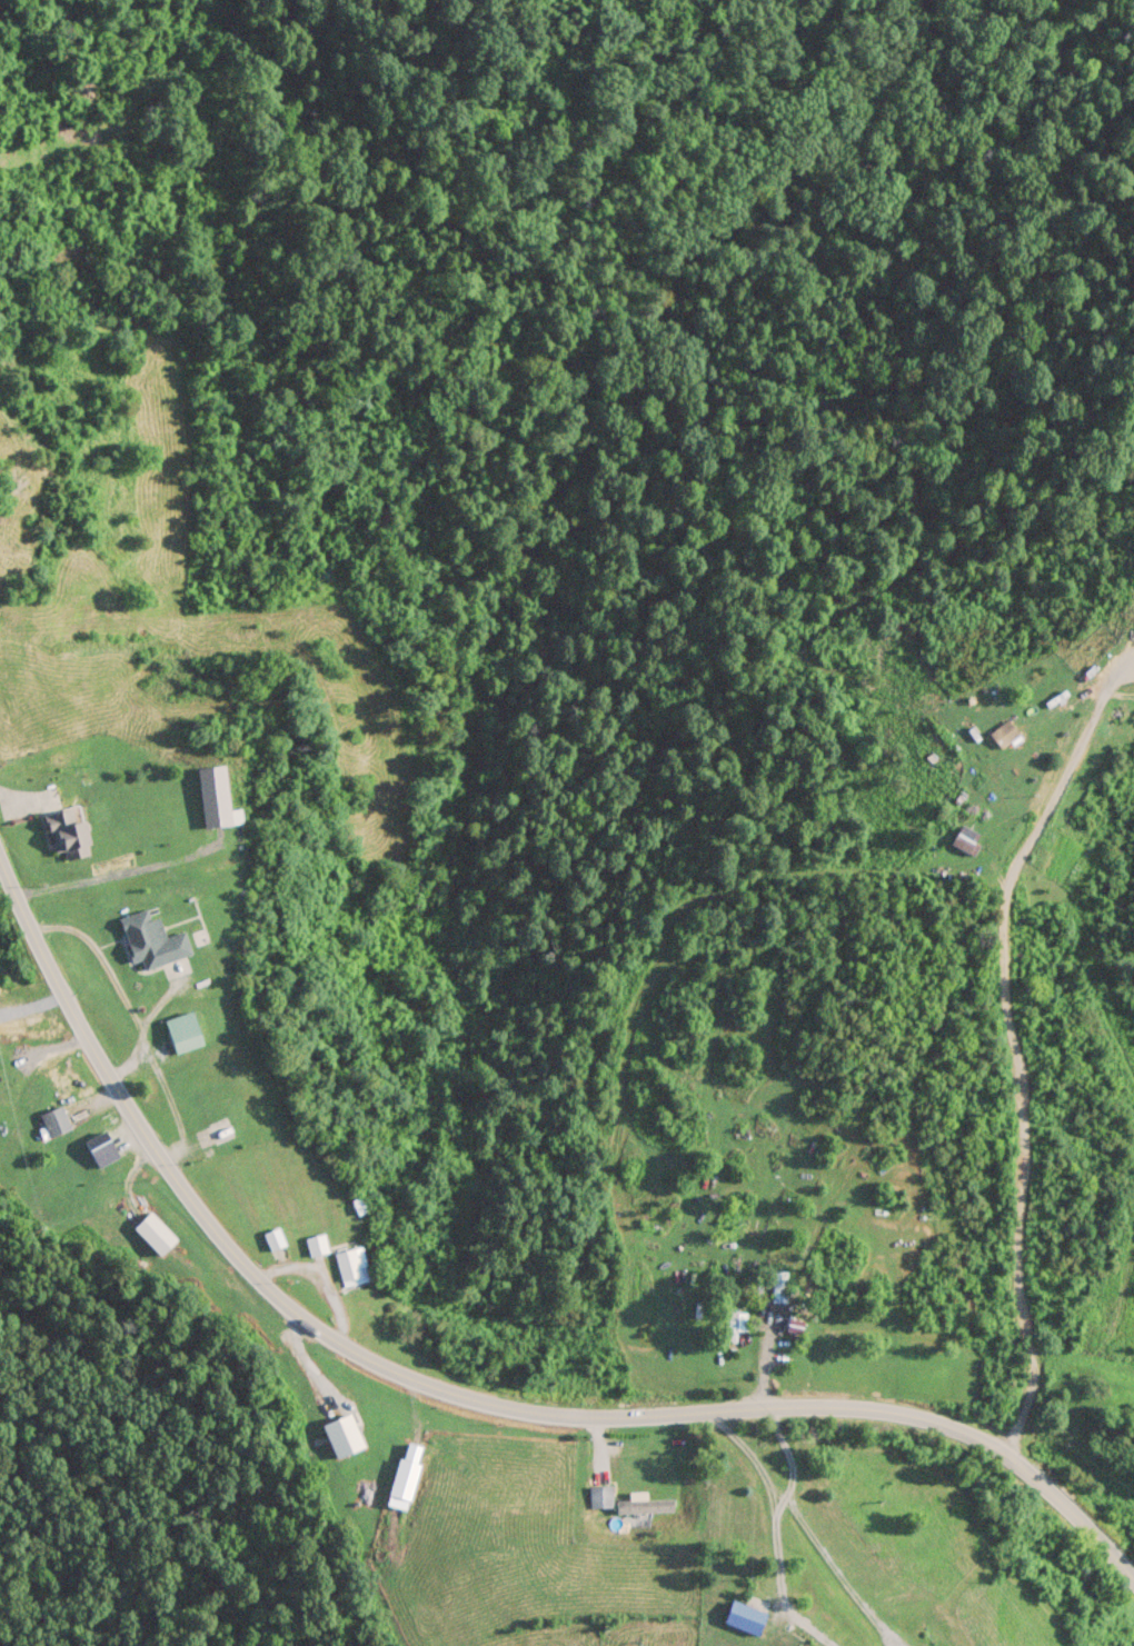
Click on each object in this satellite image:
road: (168, 636)
building: (1095, 665)
building: (1004, 732)
building: (216, 794)
building: (69, 830)
building: (966, 839)
road: (115, 875)
building: (151, 939)
building: (185, 1031)
road: (1014, 1040)
building: (54, 1120)
building: (102, 1147)
building: (155, 1233)
building: (275, 1238)
building: (317, 1244)
building: (352, 1265)
building: (777, 1286)
building: (735, 1323)
building: (252, 1331)
building: (782, 1331)
road: (462, 1396)
building: (342, 1435)
road: (745, 1452)
road: (782, 1453)
building: (624, 1502)
road: (834, 1570)
road: (775, 1583)

